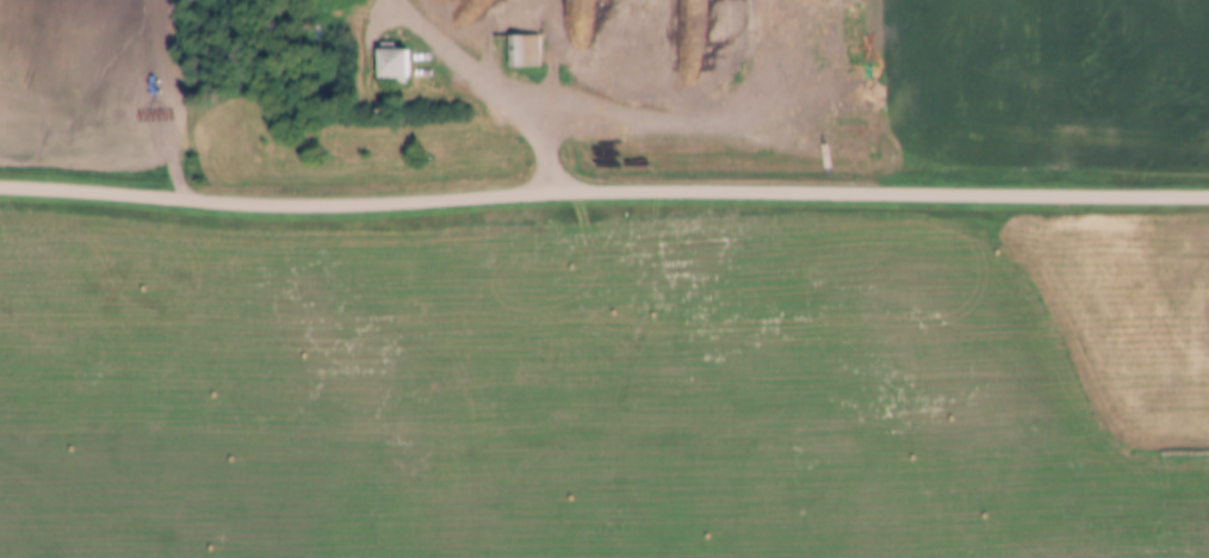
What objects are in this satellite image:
building: (526, 49)
building: (395, 64)
road: (500, 89)
road: (603, 196)

